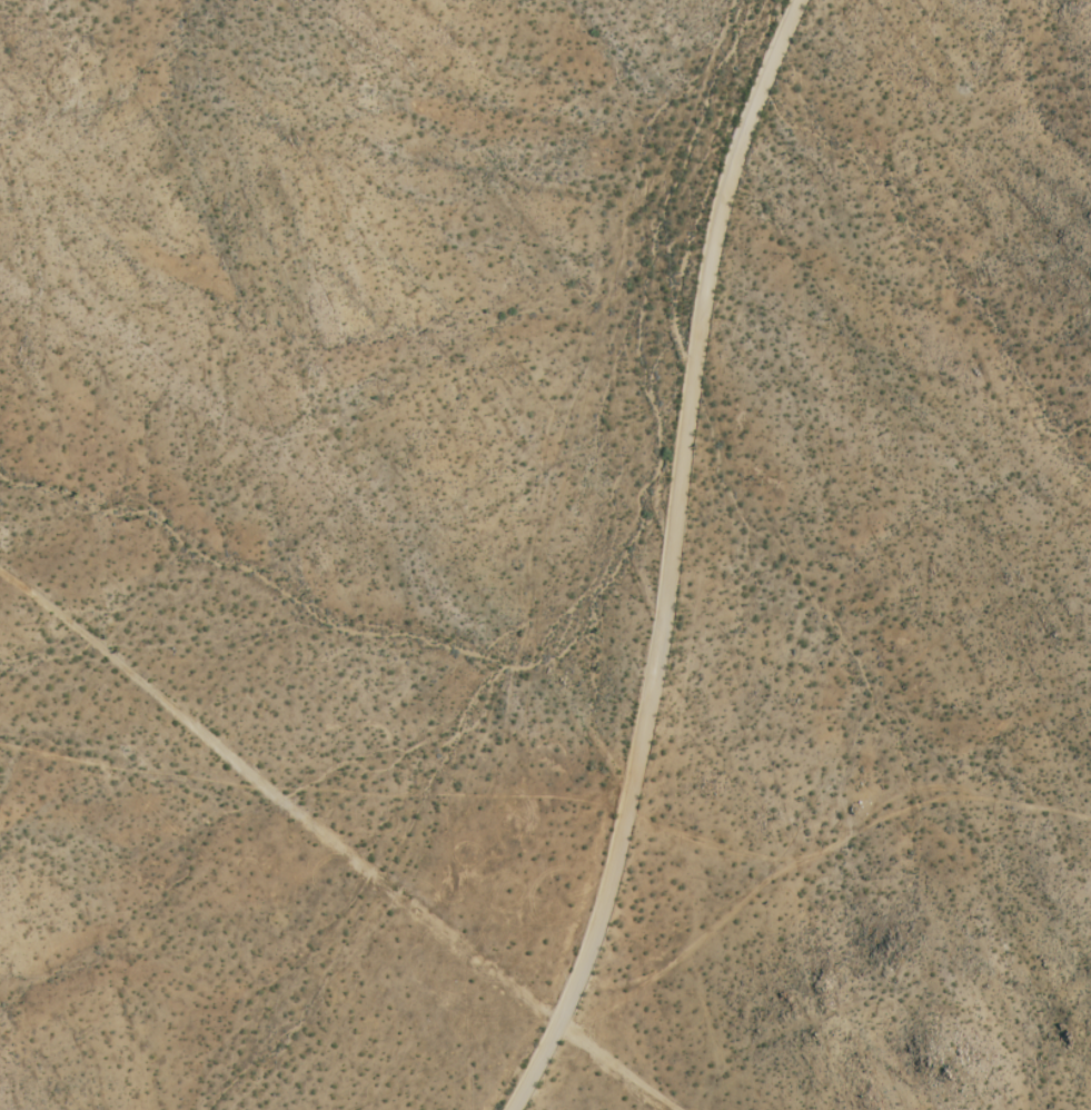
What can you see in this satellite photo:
road: (668, 561)
road: (330, 849)

